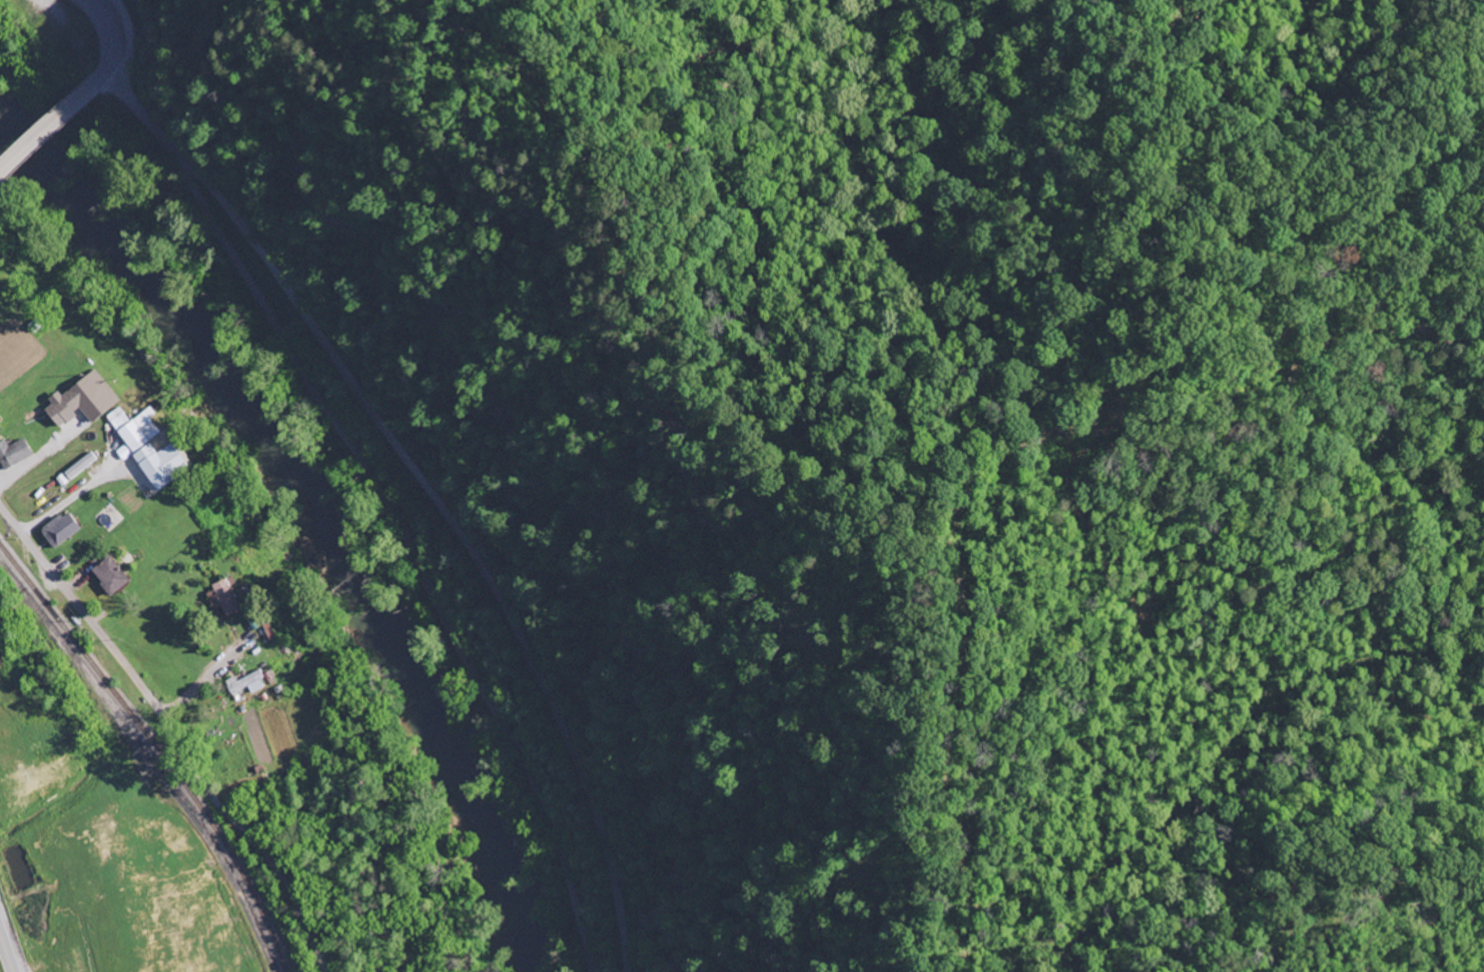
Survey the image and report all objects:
road: (110, 42)
road: (47, 131)
road: (386, 501)
river: (319, 520)
road: (84, 617)
railway: (157, 750)
road: (6, 952)

